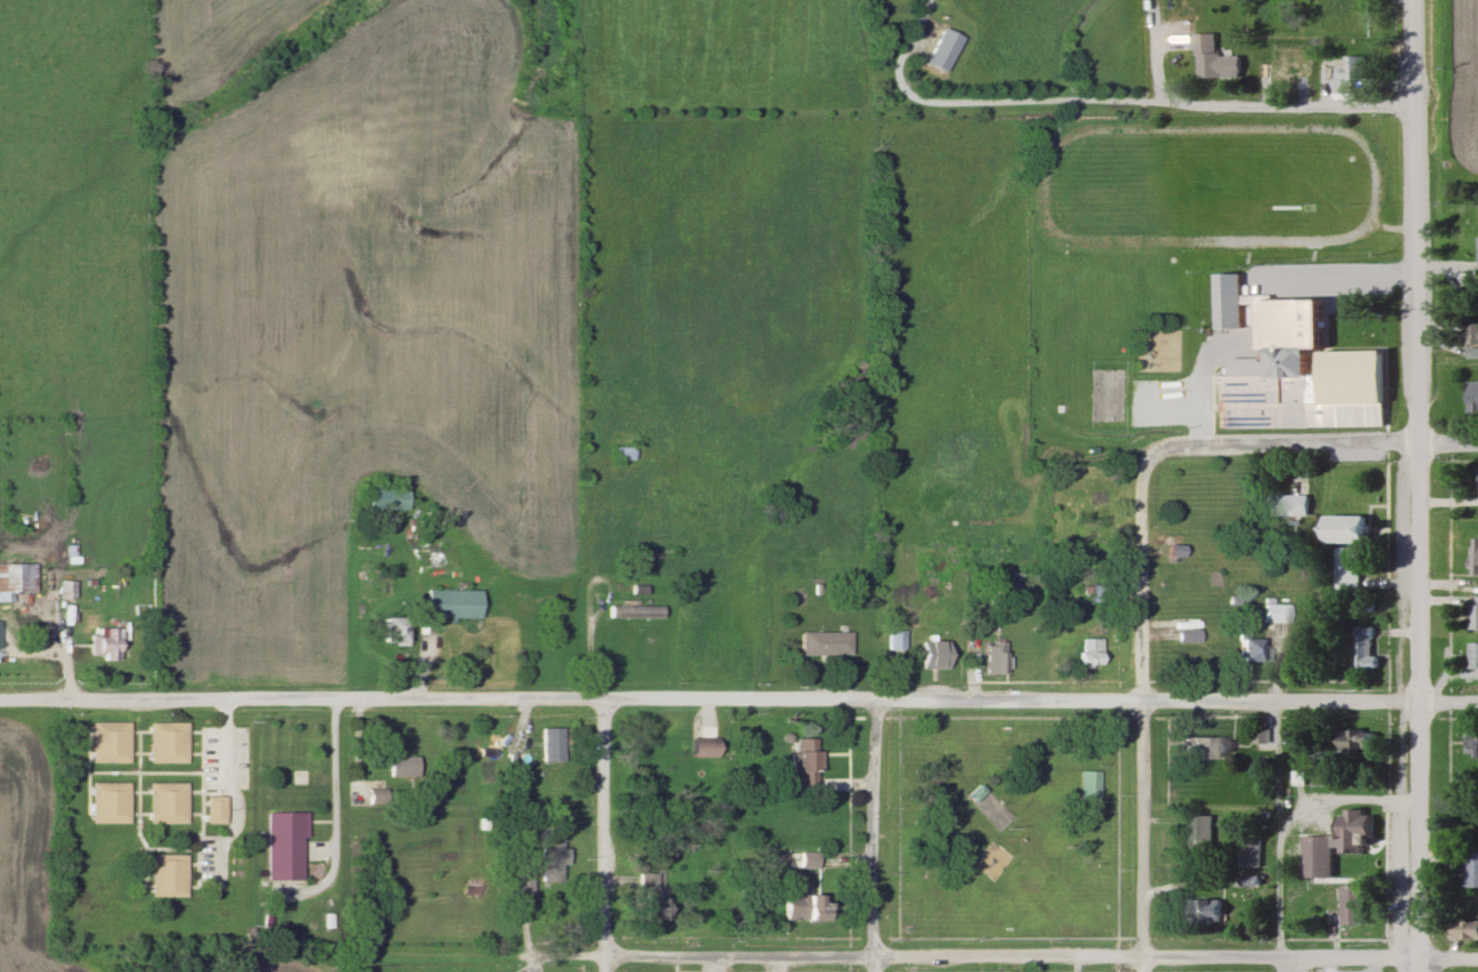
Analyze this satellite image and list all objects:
building: (1223, 44)
building: (942, 49)
building: (1214, 60)
building: (1352, 70)
building: (1279, 73)
road: (1106, 98)
building: (1477, 252)
road: (1256, 290)
building: (1471, 341)
building: (1156, 350)
building: (1295, 367)
building: (1471, 398)
road: (1303, 443)
building: (622, 453)
road: (1414, 485)
building: (386, 498)
building: (1287, 505)
building: (1348, 530)
building: (1177, 554)
building: (1477, 555)
building: (1348, 569)
building: (16, 579)
building: (932, 589)
building: (65, 590)
building: (1102, 594)
building: (453, 604)
building: (634, 612)
building: (1274, 613)
building: (1476, 613)
road: (591, 622)
building: (395, 629)
building: (833, 629)
building: (1188, 636)
building: (895, 640)
road: (65, 643)
building: (105, 644)
building: (824, 644)
building: (1255, 651)
building: (1090, 652)
building: (1365, 653)
building: (935, 654)
building: (1473, 657)
building: (994, 658)
building: (1205, 663)
road: (301, 698)
road: (1040, 703)
road: (1140, 722)
building: (1358, 741)
building: (108, 742)
building: (167, 742)
building: (550, 743)
building: (1471, 744)
building: (490, 745)
building: (703, 748)
building: (1207, 748)
parking lot: (222, 758)
building: (804, 761)
building: (401, 767)
road: (330, 774)
building: (1470, 782)
building: (1089, 785)
road: (1344, 790)
road: (232, 792)
building: (109, 802)
building: (168, 802)
building: (216, 809)
park: (1005, 830)
building: (1355, 830)
building: (1200, 833)
road: (602, 837)
road: (870, 837)
road: (1275, 837)
building: (282, 844)
building: (1248, 852)
building: (1317, 857)
building: (802, 860)
parking lot: (210, 861)
building: (550, 862)
building: (1471, 870)
building: (168, 876)
building: (520, 881)
building: (651, 899)
building: (1353, 905)
building: (805, 906)
building: (1203, 912)
building: (1467, 930)
road: (564, 955)
road: (871, 956)
road: (1309, 960)

